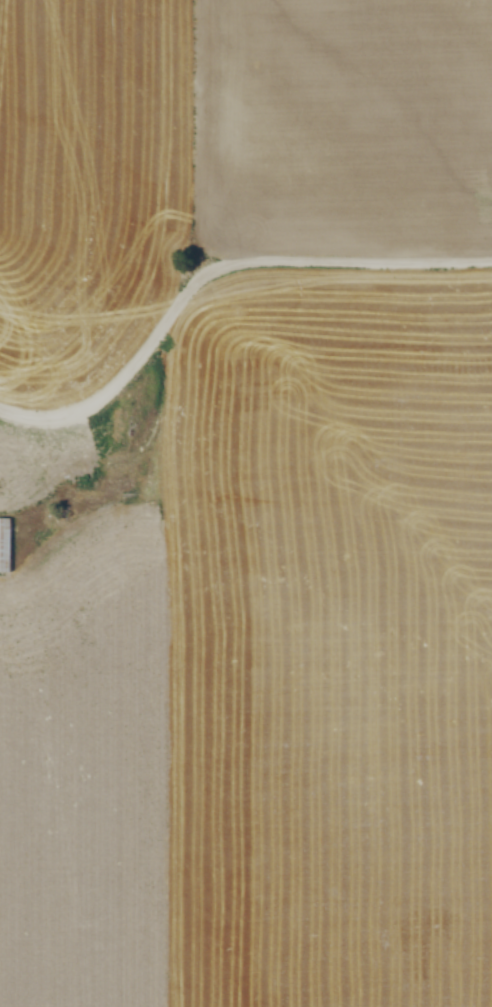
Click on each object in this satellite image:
building: (6, 545)

